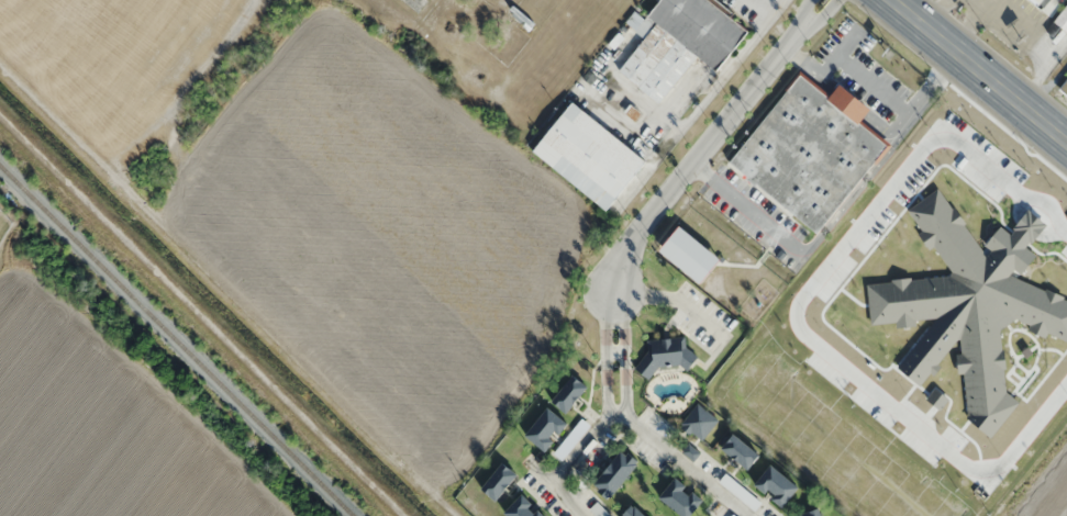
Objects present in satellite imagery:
building: (1040, 2)
road: (765, 10)
building: (1062, 20)
road: (794, 22)
road: (811, 25)
building: (679, 42)
road: (840, 54)
road: (977, 72)
road: (874, 85)
building: (1065, 87)
road: (836, 91)
road: (922, 94)
road: (711, 136)
building: (809, 150)
building: (589, 155)
road: (805, 248)
road: (605, 317)
road: (624, 321)
railway: (177, 339)
building: (666, 352)
building: (570, 393)
building: (699, 422)
building: (546, 427)
building: (571, 438)
road: (583, 445)
building: (741, 450)
road: (679, 458)
building: (616, 473)
building: (500, 481)
building: (777, 484)
road: (564, 497)
building: (681, 497)
building: (523, 507)
building: (634, 512)
building: (813, 513)

